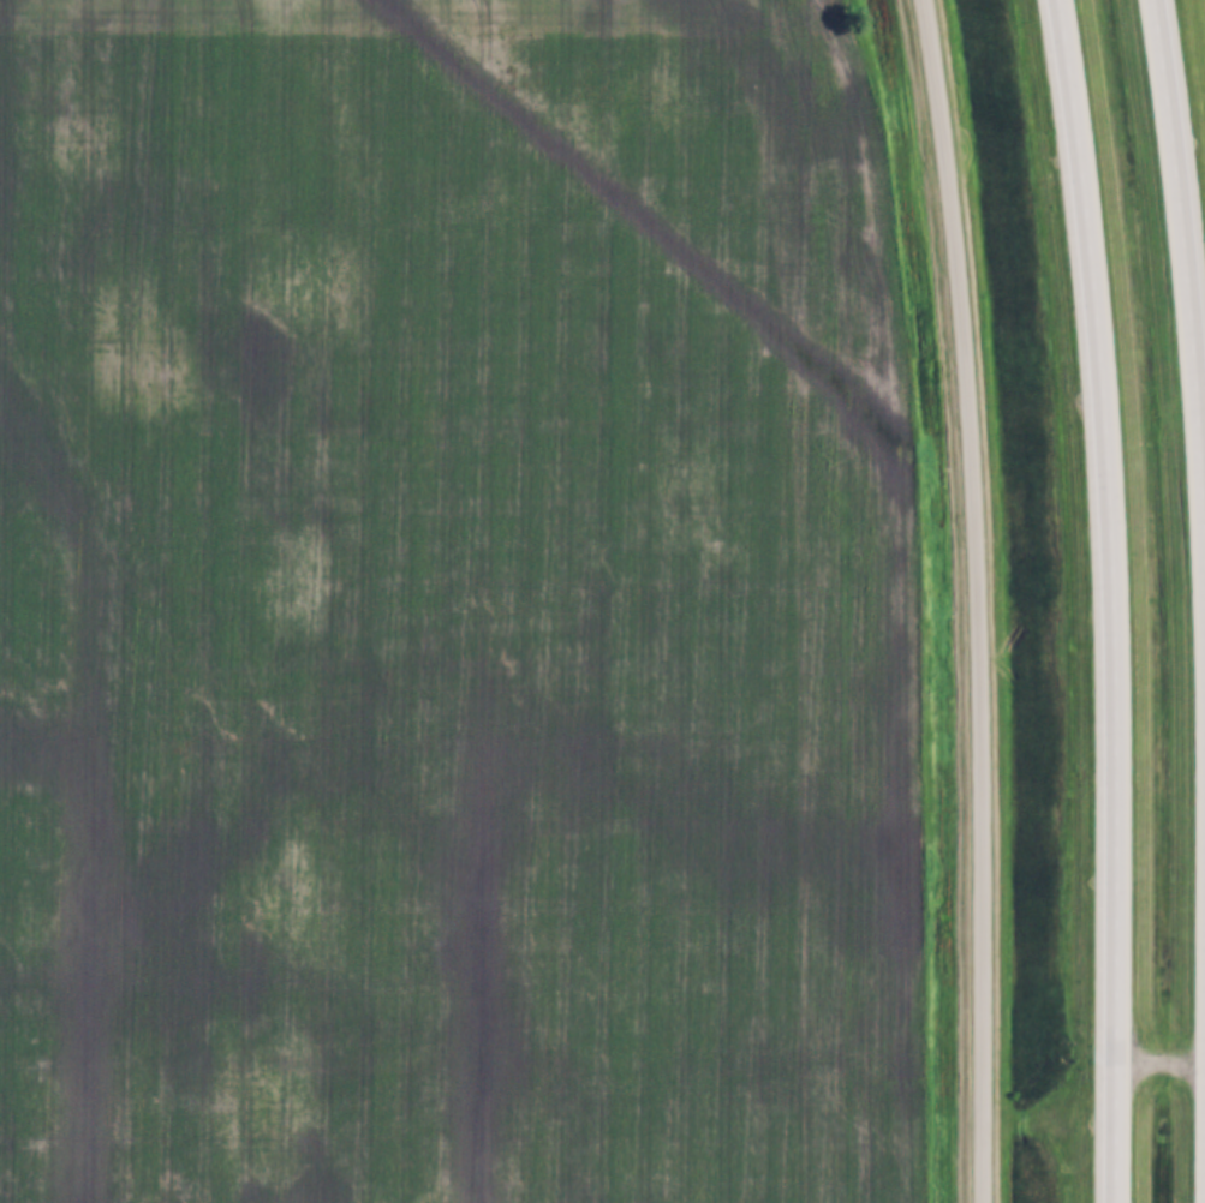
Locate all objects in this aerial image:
road: (1186, 281)
road: (972, 599)
road: (1109, 599)
crop: (454, 606)

